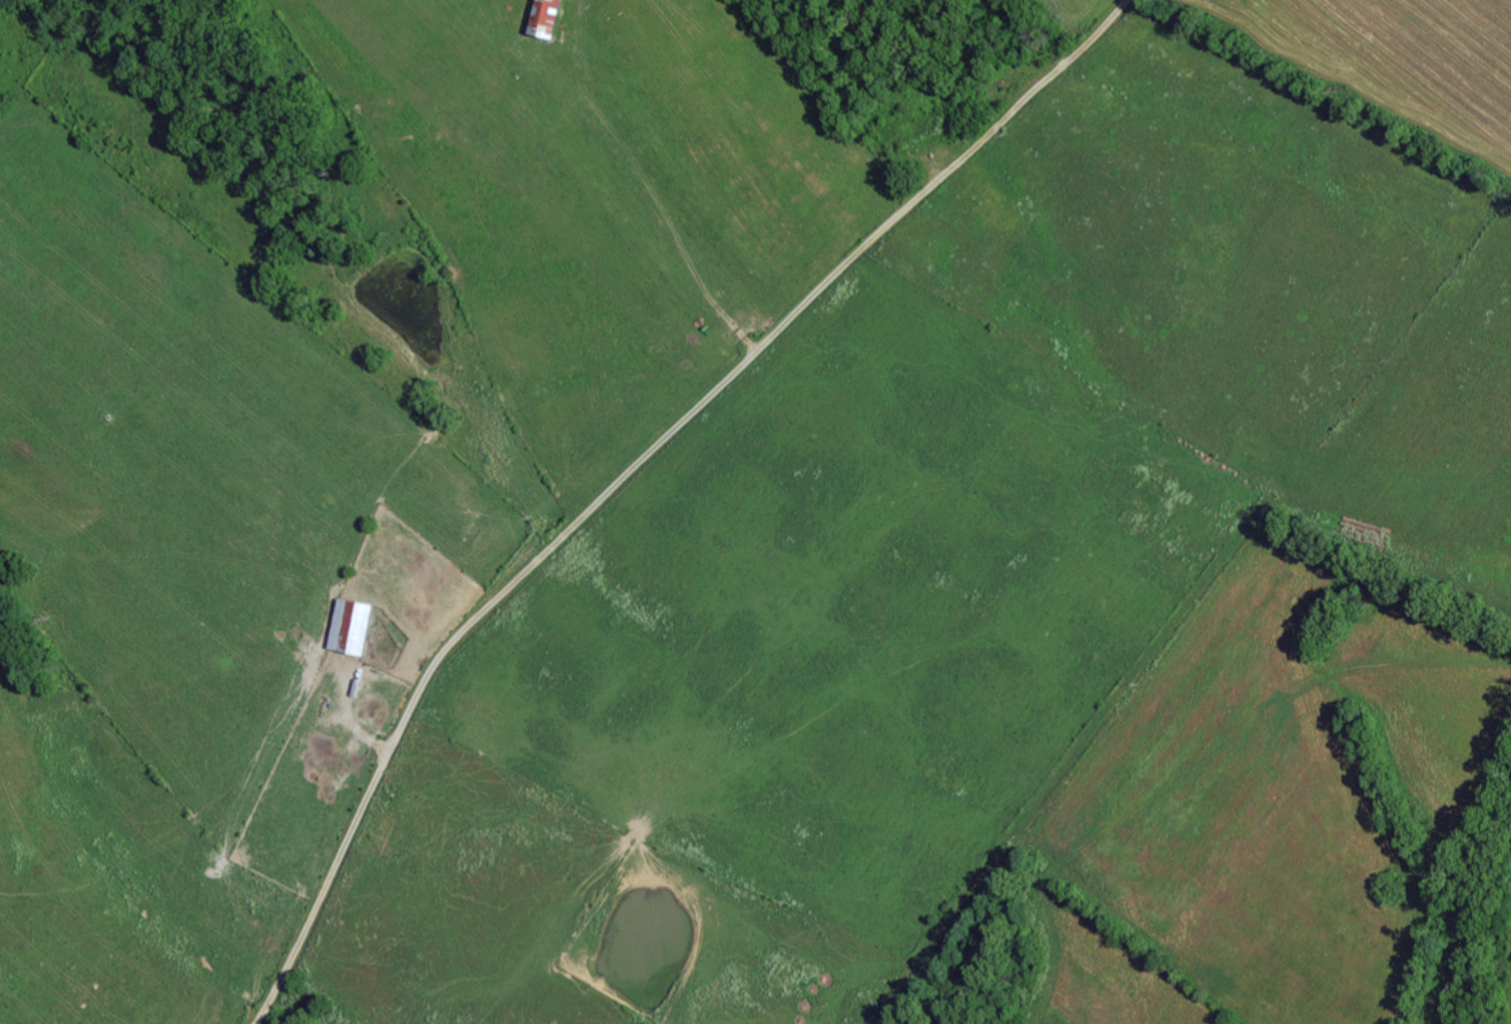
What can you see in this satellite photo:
building: (543, 17)
road: (370, 56)
road: (593, 461)
building: (349, 625)

